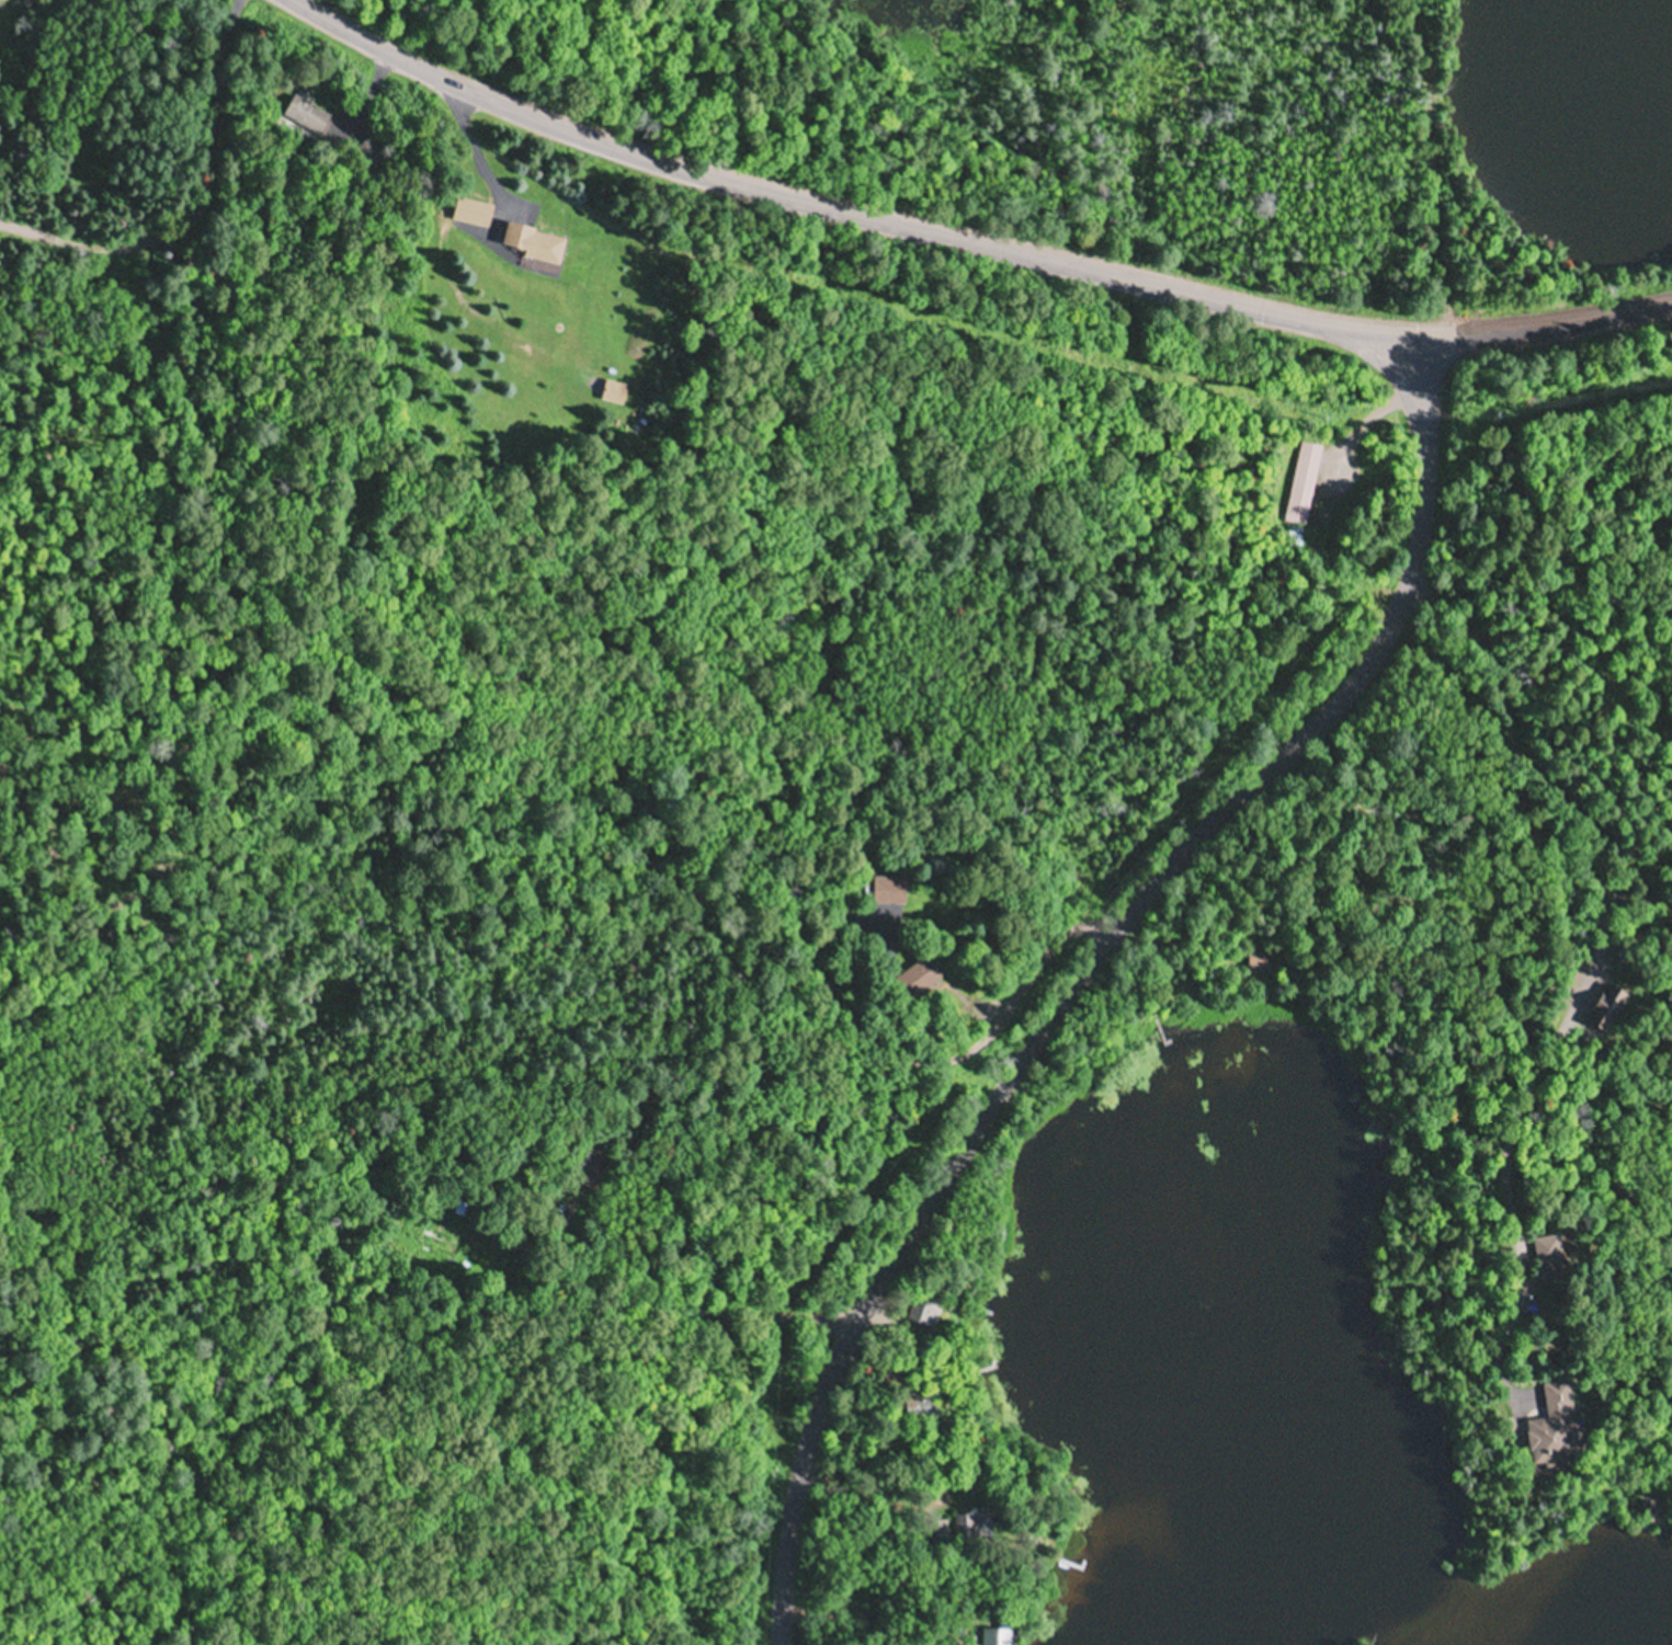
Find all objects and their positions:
road: (977, 233)
road: (1532, 841)
road: (1087, 959)

